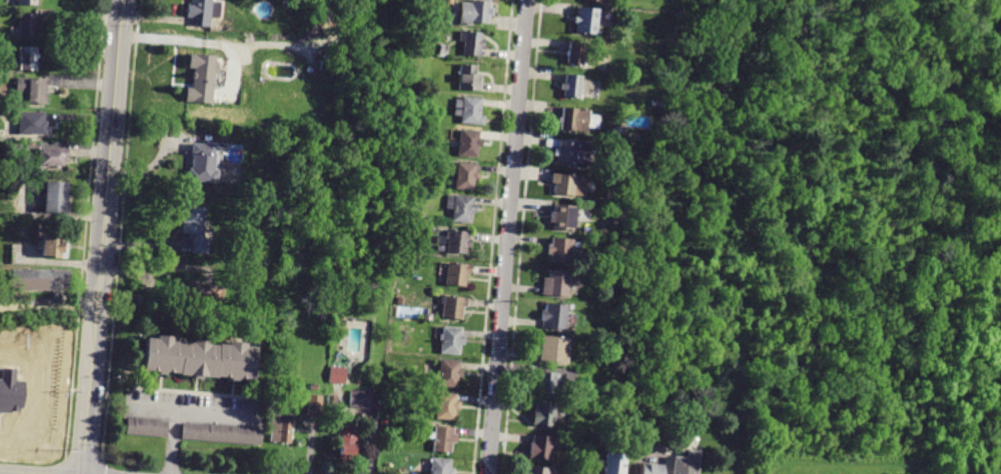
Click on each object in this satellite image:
building: (593, 0)
building: (26, 2)
building: (203, 11)
building: (474, 12)
building: (587, 20)
building: (27, 25)
building: (472, 43)
building: (442, 50)
building: (576, 54)
building: (25, 58)
building: (324, 62)
building: (201, 78)
building: (468, 78)
building: (572, 86)
building: (31, 89)
building: (653, 103)
building: (468, 110)
building: (578, 120)
building: (30, 123)
building: (274, 141)
building: (468, 143)
building: (572, 151)
building: (52, 156)
building: (202, 163)
building: (465, 176)
building: (568, 184)
building: (54, 197)
building: (460, 208)
building: (563, 216)
park: (837, 222)
building: (195, 228)
road: (102, 236)
road: (506, 237)
building: (457, 242)
building: (54, 247)
building: (560, 250)
building: (417, 261)
building: (456, 274)
building: (39, 280)
building: (556, 283)
building: (200, 294)
building: (399, 301)
building: (453, 307)
road: (48, 309)
building: (554, 316)
building: (338, 322)
building: (451, 341)
building: (553, 349)
building: (193, 359)
building: (448, 373)
building: (336, 375)
building: (544, 383)
building: (360, 400)
building: (331, 404)
building: (314, 405)
road: (152, 406)
building: (446, 406)
road: (182, 408)
building: (543, 415)
building: (384, 423)
building: (144, 427)
building: (281, 427)
building: (217, 434)
building: (443, 439)
building: (347, 445)
building: (540, 447)
building: (594, 462)
building: (615, 463)
building: (687, 463)
building: (440, 466)
building: (653, 468)
building: (537, 470)
building: (589, 471)
road: (16, 472)

